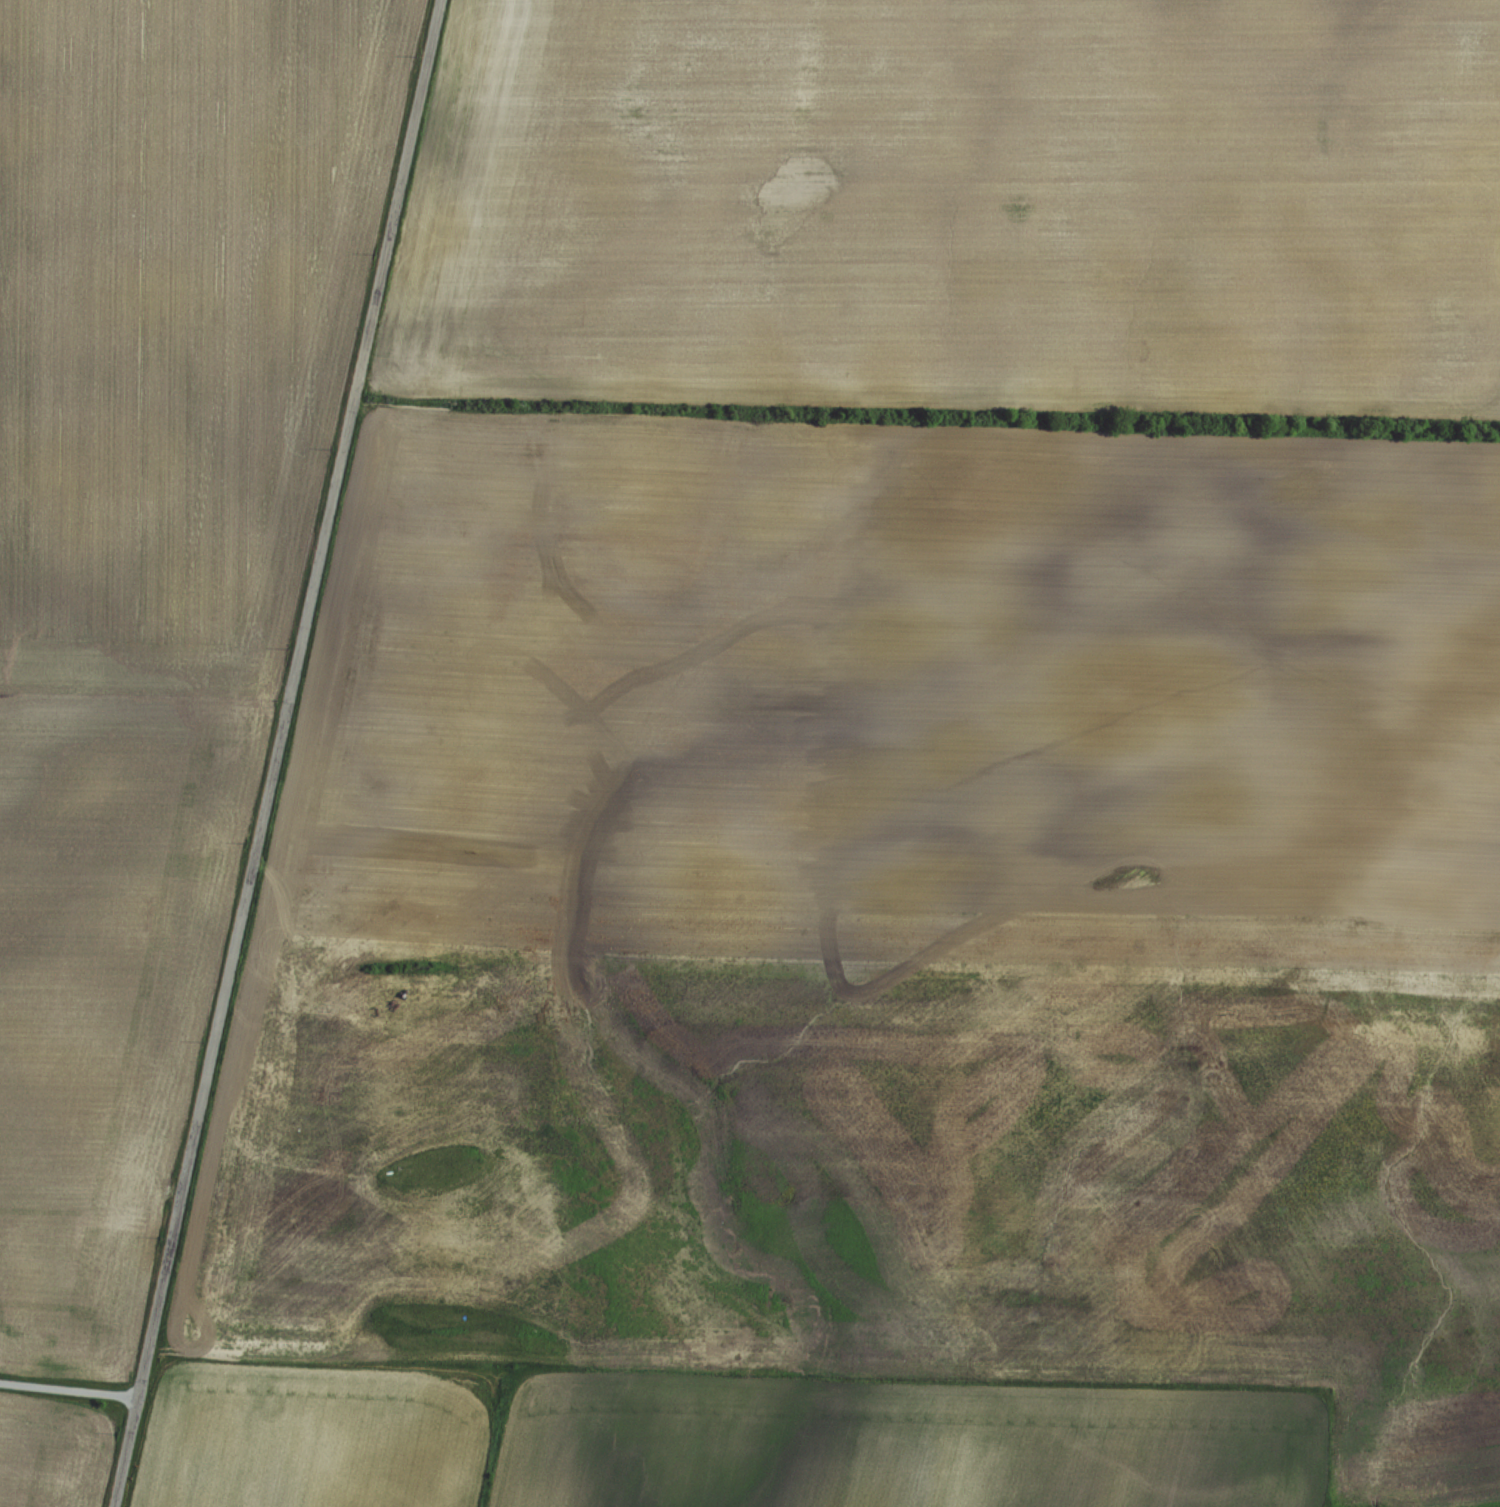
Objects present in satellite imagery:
road: (276, 753)
road: (67, 1391)

